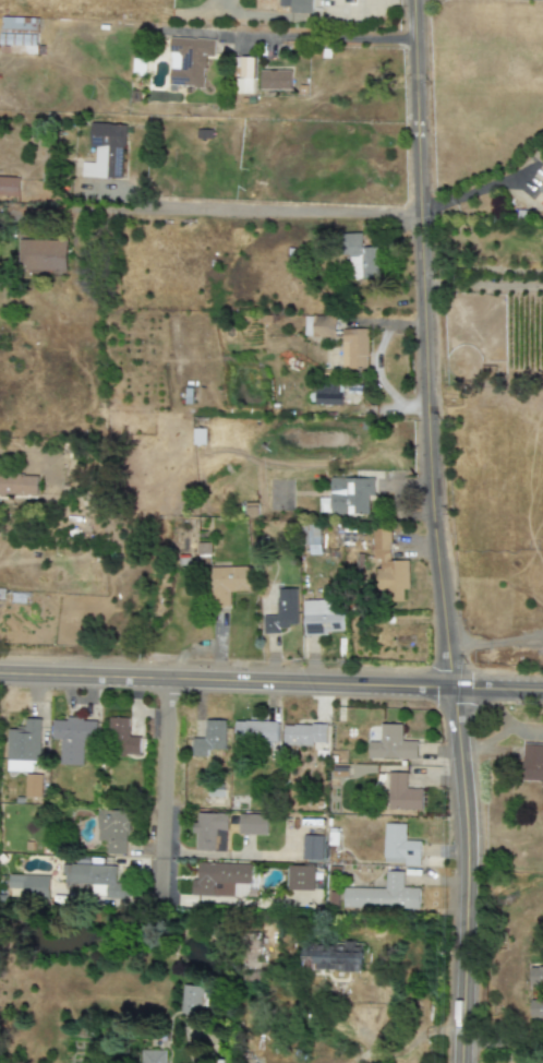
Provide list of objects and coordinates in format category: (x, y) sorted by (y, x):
building: (297, 5)
road: (341, 38)
building: (189, 62)
building: (243, 75)
building: (275, 80)
building: (105, 152)
building: (9, 187)
building: (541, 190)
road: (475, 191)
road: (221, 210)
building: (41, 255)
building: (362, 259)
road: (485, 287)
building: (319, 326)
road: (430, 346)
building: (354, 348)
building: (327, 396)
building: (19, 485)
building: (348, 497)
building: (202, 553)
building: (389, 568)
building: (282, 612)
building: (322, 617)
road: (495, 641)
road: (271, 682)
building: (254, 732)
building: (304, 734)
building: (73, 739)
building: (122, 739)
building: (209, 739)
building: (391, 745)
building: (23, 747)
building: (532, 763)
building: (33, 786)
road: (166, 789)
building: (402, 793)
building: (252, 825)
building: (112, 831)
building: (210, 832)
building: (399, 847)
building: (311, 848)
road: (455, 876)
building: (300, 879)
building: (94, 880)
building: (222, 881)
building: (29, 885)
building: (383, 895)
building: (334, 956)
building: (536, 976)
building: (192, 1000)
building: (536, 1010)
road: (500, 1042)
building: (154, 1056)
building: (518, 1060)

